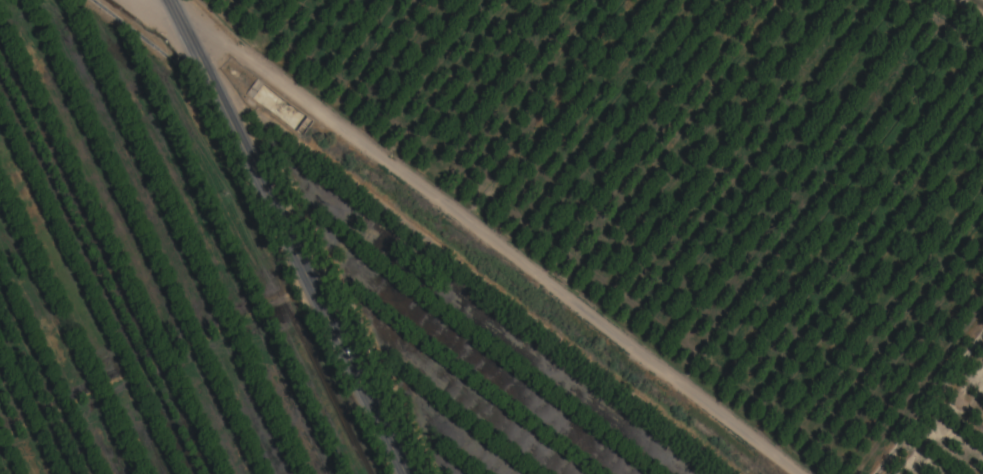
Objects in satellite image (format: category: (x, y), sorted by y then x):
road: (976, 5)
road: (284, 237)
road: (480, 239)
road: (465, 269)

